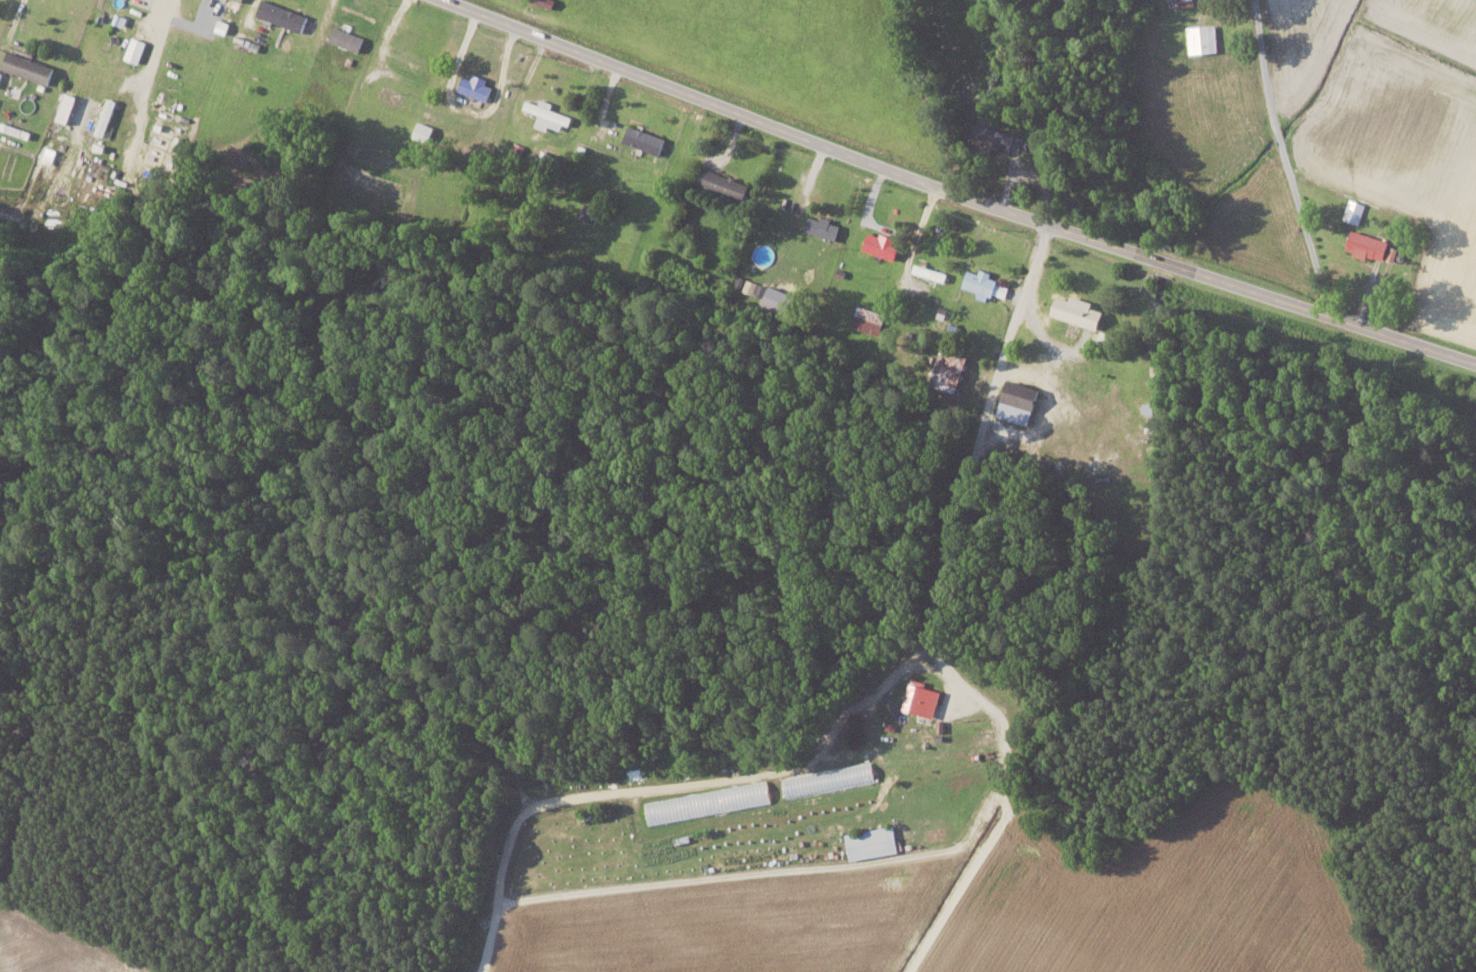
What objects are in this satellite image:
building: (1189, 1)
road: (16, 15)
building: (284, 15)
building: (348, 39)
building: (1203, 39)
building: (136, 50)
building: (30, 67)
building: (477, 87)
building: (68, 107)
building: (549, 115)
building: (107, 117)
building: (424, 131)
building: (993, 137)
building: (645, 139)
road: (1282, 159)
building: (726, 184)
road: (958, 193)
building: (1355, 211)
building: (824, 227)
building: (884, 245)
building: (1373, 246)
building: (932, 272)
building: (986, 284)
building: (1079, 311)
building: (870, 320)
building: (949, 369)
building: (1021, 402)
road: (937, 620)
building: (923, 698)
building: (830, 778)
road: (668, 786)
building: (709, 801)
building: (873, 842)

